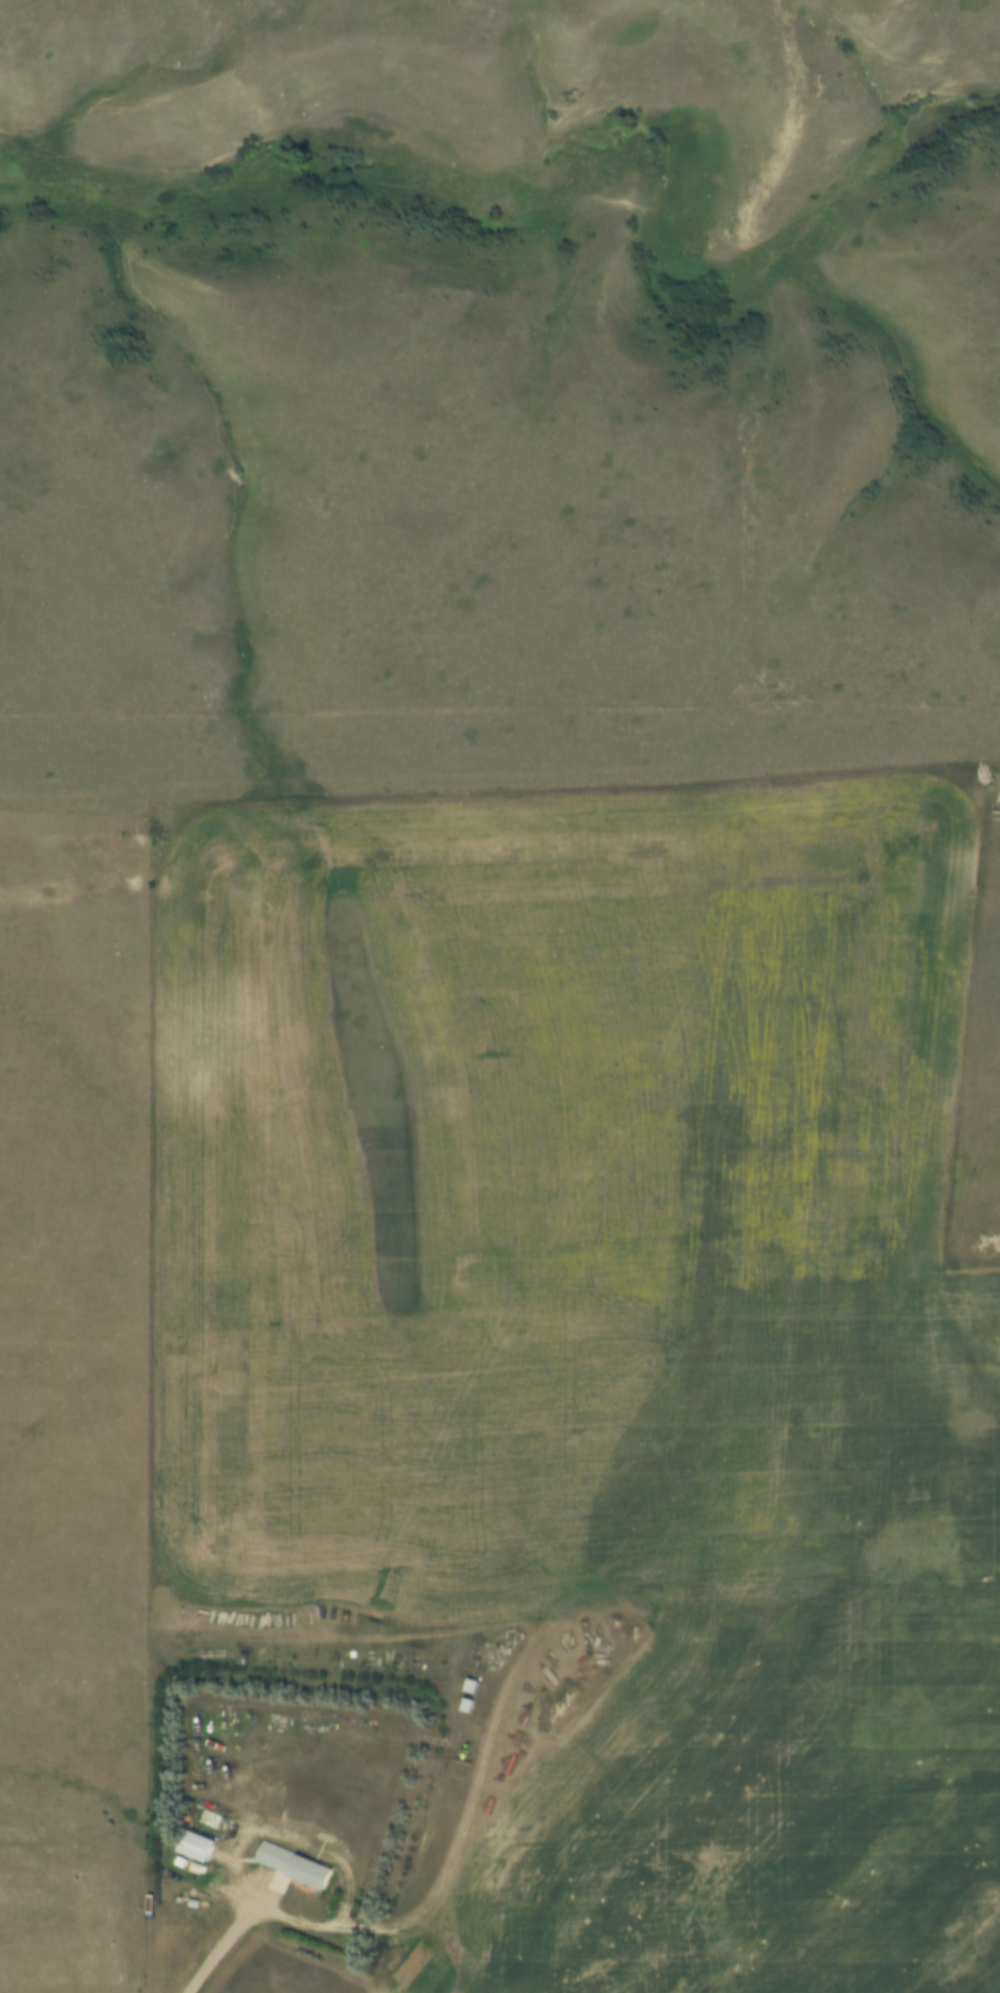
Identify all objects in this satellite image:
building: (474, 1685)
building: (469, 1703)
building: (199, 1845)
building: (296, 1864)
road: (223, 1945)

